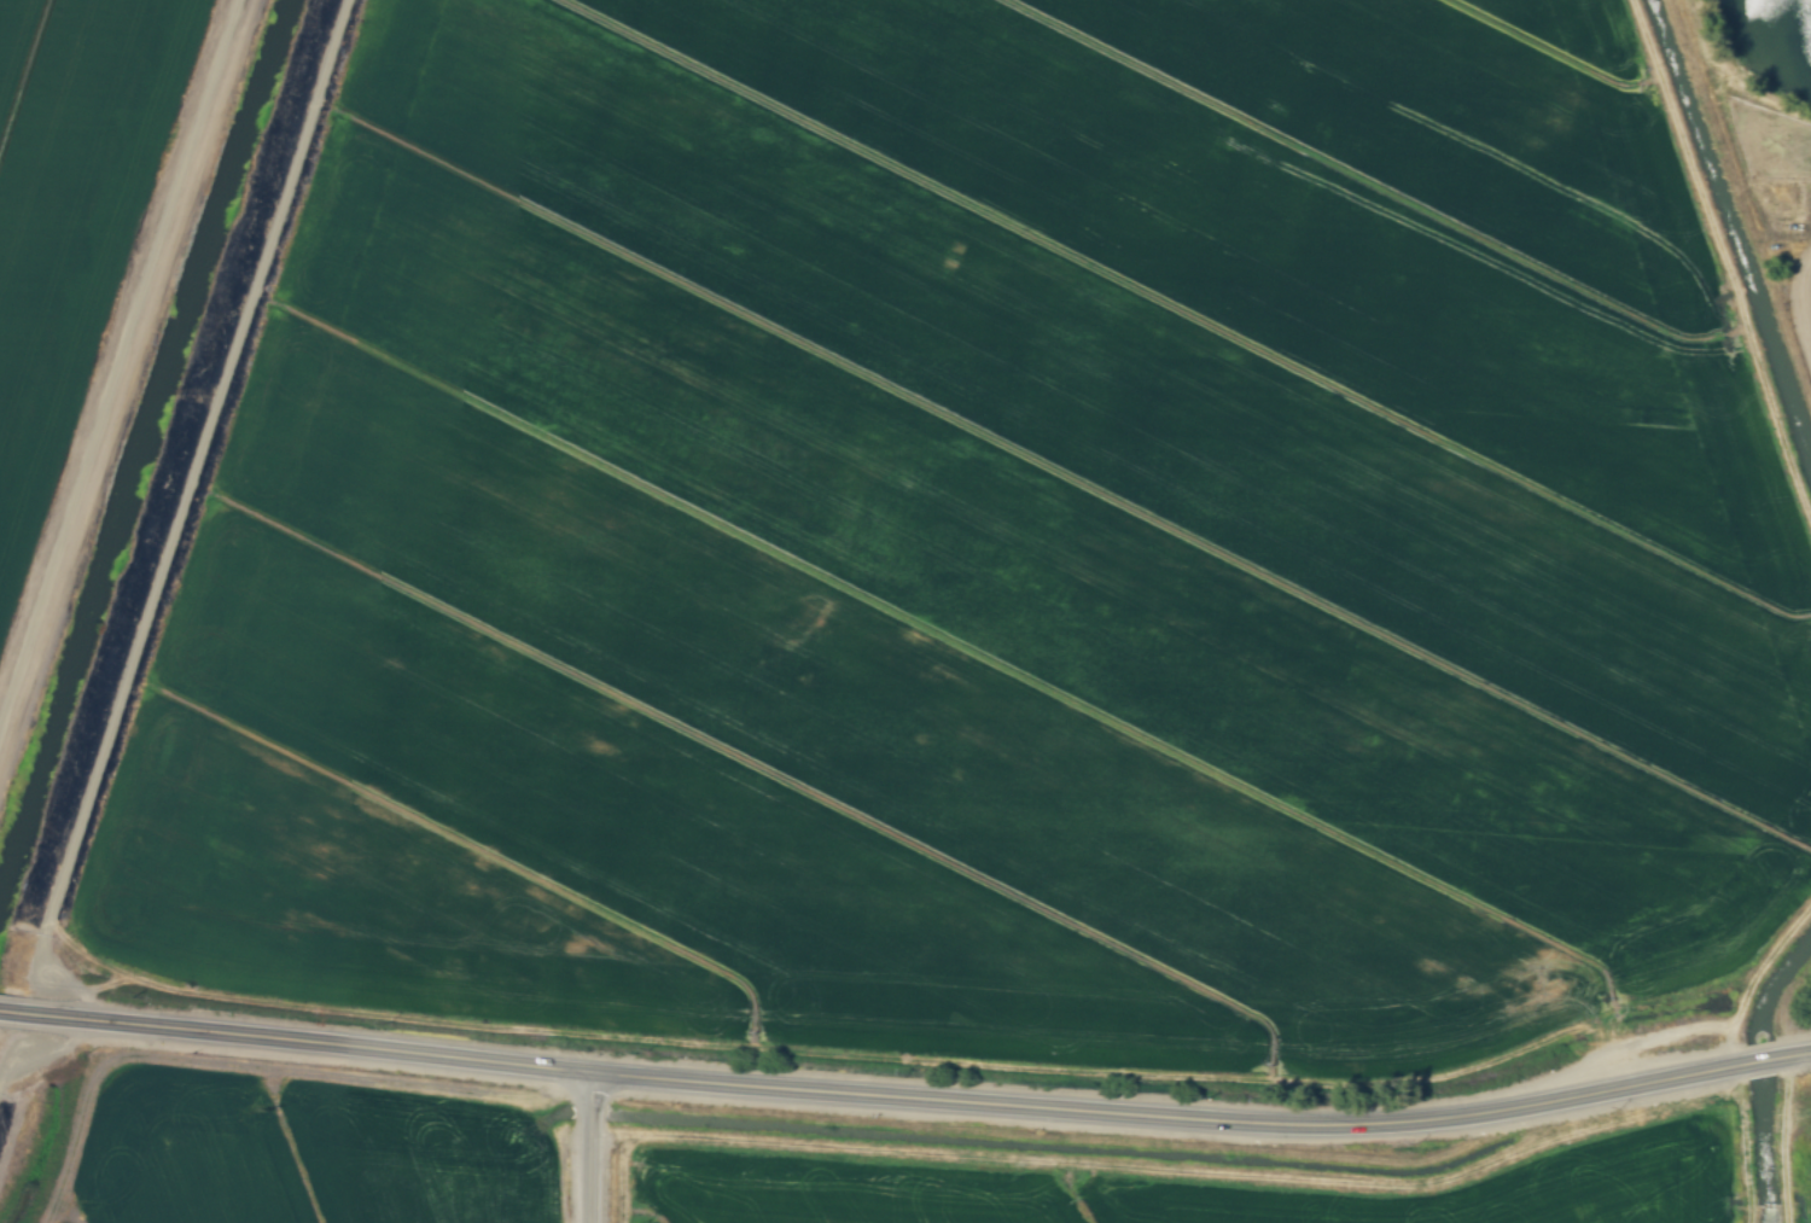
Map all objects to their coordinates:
road: (8, 1013)
road: (915, 1101)
road: (1780, 1142)
road: (595, 1149)
crop: (1193, 1187)

